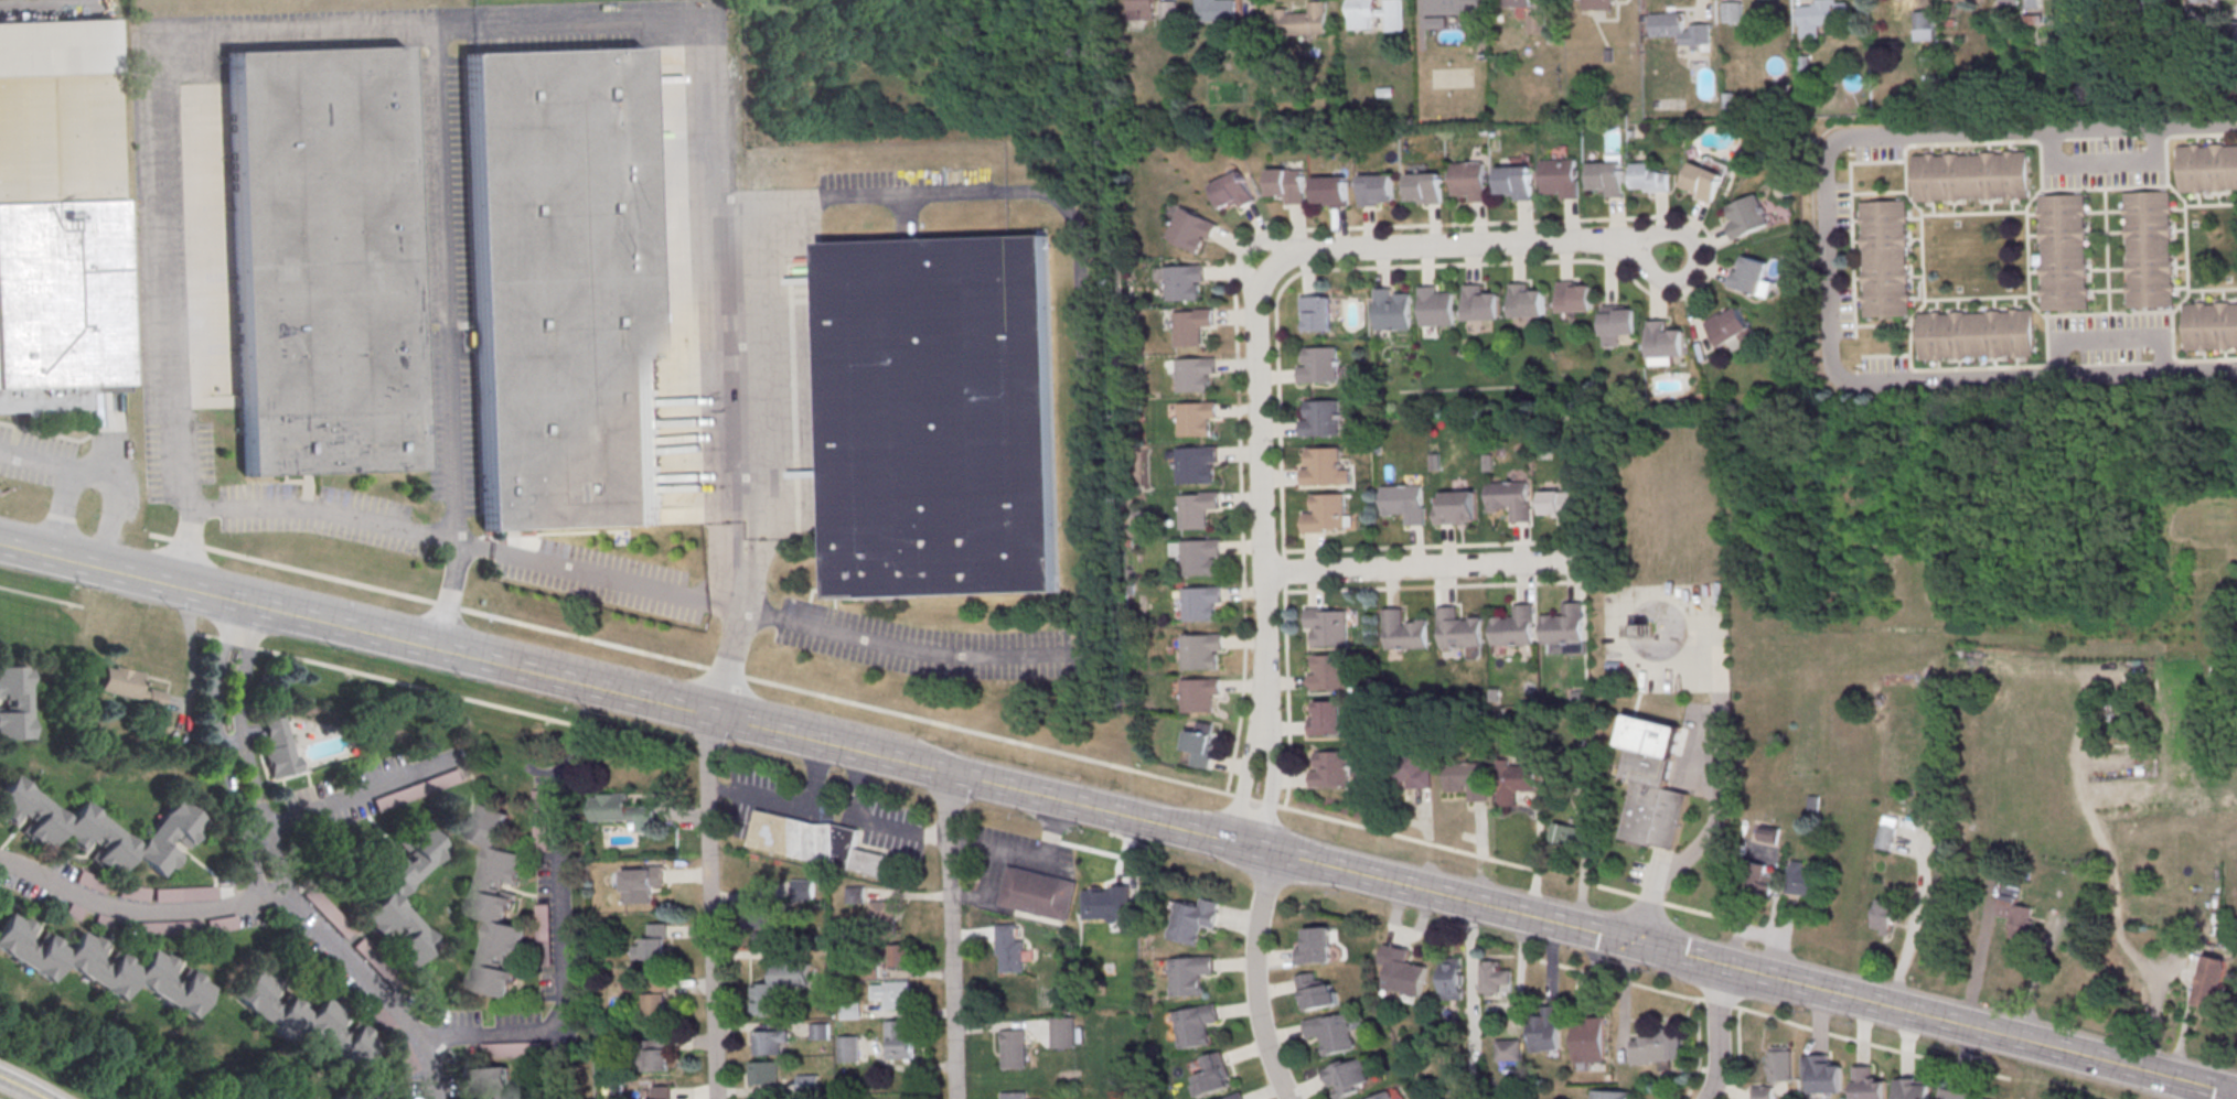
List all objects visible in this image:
road: (1168, 1)
road: (1318, 1)
building: (1516, 3)
building: (2033, 3)
building: (1596, 4)
building: (1451, 7)
building: (1141, 11)
building: (1168, 12)
building: (1214, 12)
building: (1732, 13)
building: (1373, 15)
building: (1822, 19)
building: (1302, 23)
building: (1538, 24)
road: (611, 25)
building: (1924, 25)
building: (1679, 28)
building: (57, 111)
road: (1856, 137)
parking lot: (1875, 151)
road: (2099, 164)
parking lot: (2102, 165)
building: (2207, 166)
building: (1650, 175)
building: (1970, 175)
building: (1561, 176)
building: (1607, 176)
road: (162, 177)
building: (1703, 179)
building: (1469, 180)
building: (1514, 181)
building: (1286, 183)
building: (1424, 186)
building: (1376, 188)
building: (1330, 190)
building: (1232, 191)
building: (1746, 216)
building: (1190, 228)
road: (2184, 246)
building: (2148, 248)
road: (1313, 250)
building: (2062, 251)
building: (1884, 258)
building: (325, 261)
road: (1299, 271)
building: (1749, 274)
building: (1184, 283)
building: (563, 289)
building: (61, 294)
building: (1574, 294)
road: (2026, 295)
building: (1527, 300)
building: (1480, 303)
building: (1436, 306)
building: (1392, 309)
building: (1317, 312)
building: (1618, 322)
building: (2209, 324)
building: (1190, 325)
building: (1733, 325)
building: (1976, 333)
parking lot: (2107, 335)
road: (2106, 336)
building: (1666, 340)
parking lot: (1882, 364)
building: (1318, 365)
building: (1194, 374)
road: (2091, 375)
building: (940, 417)
building: (1195, 418)
building: (1320, 418)
building: (1434, 461)
building: (1487, 461)
building: (1196, 464)
road: (1240, 466)
building: (1324, 466)
road: (105, 472)
building: (1509, 498)
building: (1404, 502)
building: (1560, 502)
building: (1457, 507)
building: (1197, 508)
road: (61, 511)
building: (1325, 513)
road: (1433, 546)
building: (1200, 556)
road: (1423, 565)
road: (159, 584)
road: (1434, 585)
building: (1202, 603)
building: (1563, 624)
building: (1514, 625)
building: (1327, 626)
building: (1458, 627)
building: (1404, 629)
road: (1266, 647)
building: (1201, 650)
road: (1030, 655)
road: (687, 662)
building: (1327, 671)
road: (242, 681)
road: (215, 683)
building: (127, 685)
building: (1199, 693)
building: (14, 702)
building: (1327, 718)
building: (1199, 744)
building: (279, 746)
building: (1410, 766)
building: (1331, 768)
building: (1467, 779)
road: (1246, 780)
building: (1514, 780)
building: (1651, 780)
road: (1266, 784)
road: (357, 794)
road: (737, 795)
road: (813, 796)
building: (622, 810)
building: (540, 820)
road: (871, 820)
building: (99, 828)
road: (1714, 829)
building: (1564, 833)
building: (1768, 834)
building: (1884, 837)
building: (815, 842)
road: (1278, 851)
road: (1030, 863)
building: (1758, 879)
building: (1802, 879)
building: (642, 883)
building: (805, 888)
building: (1038, 893)
building: (390, 894)
road: (972, 896)
road: (1653, 896)
building: (1109, 897)
building: (495, 901)
road: (1658, 902)
road: (710, 905)
building: (881, 909)
building: (2014, 911)
road: (139, 912)
building: (328, 912)
building: (1883, 914)
road: (1917, 914)
building: (766, 919)
building: (1194, 922)
building: (545, 926)
road: (323, 935)
road: (951, 935)
building: (653, 944)
traffic signals: (1642, 944)
building: (1316, 946)
building: (1009, 948)
building: (899, 955)
building: (375, 961)
building: (97, 963)
road: (1976, 969)
building: (1401, 970)
building: (1191, 974)
building: (1494, 976)
road: (560, 977)
road: (1256, 977)
building: (1451, 978)
building: (2211, 980)
building: (777, 987)
building: (1317, 991)
building: (892, 994)
building: (657, 995)
road: (1678, 995)
building: (850, 1010)
building: (304, 1019)
building: (383, 1019)
building: (1197, 1025)
building: (1545, 1027)
building: (1063, 1032)
road: (1717, 1032)
building: (820, 1033)
building: (1332, 1033)
building: (900, 1038)
building: (1588, 1038)
building: (769, 1042)
building: (1658, 1046)
road: (1874, 1046)
building: (848, 1049)
building: (1014, 1049)
building: (1508, 1049)
road: (1698, 1049)
building: (660, 1053)
building: (407, 1057)
building: (1780, 1065)
park: (100, 1066)
building: (763, 1073)
building: (1822, 1073)
building: (1214, 1074)
building: (1350, 1076)
building: (491, 1082)
building: (1866, 1084)
building: (807, 1086)
road: (21, 1087)
building: (1913, 1088)
park: (251, 1090)
building: (661, 1092)
building: (1763, 1092)
building: (1610, 1095)
building: (1955, 1095)
building: (357, 1096)
building: (1014, 1096)
building: (1237, 1096)
building: (1383, 1096)

